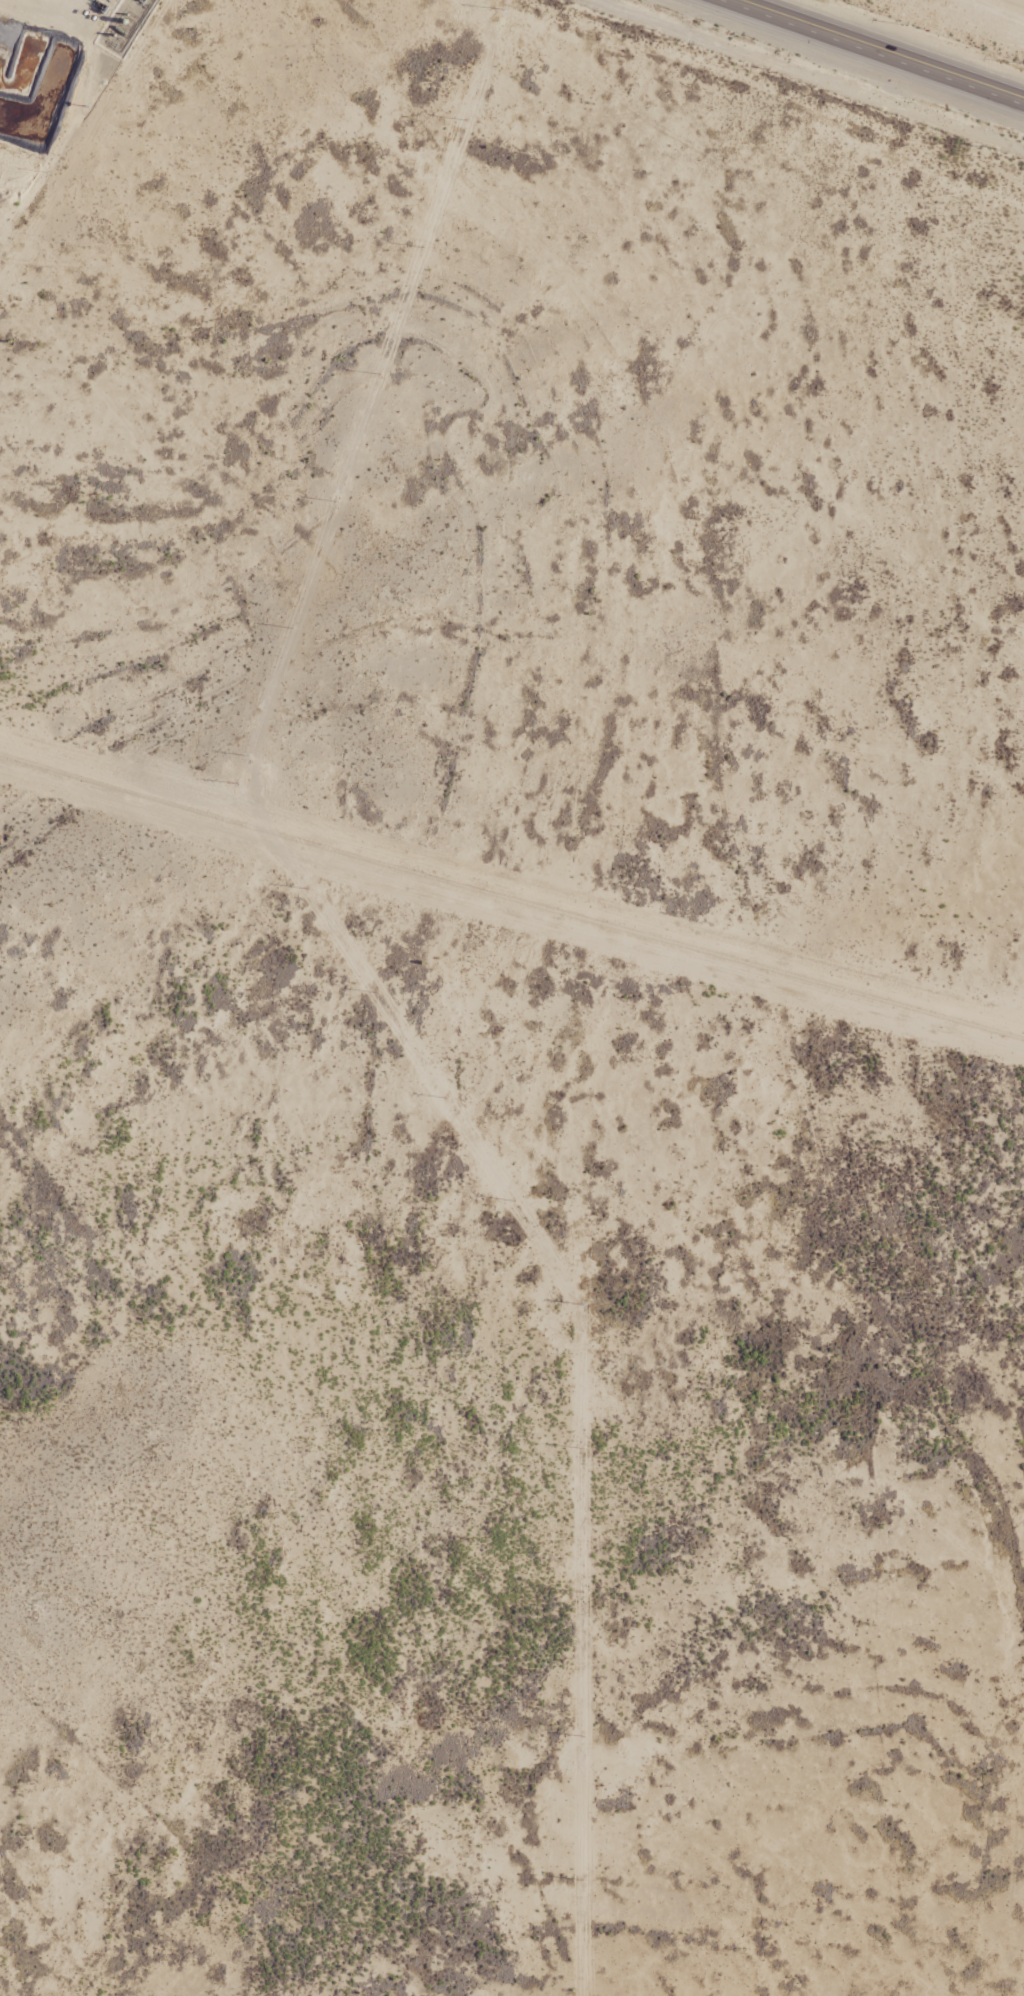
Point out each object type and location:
road: (867, 55)

